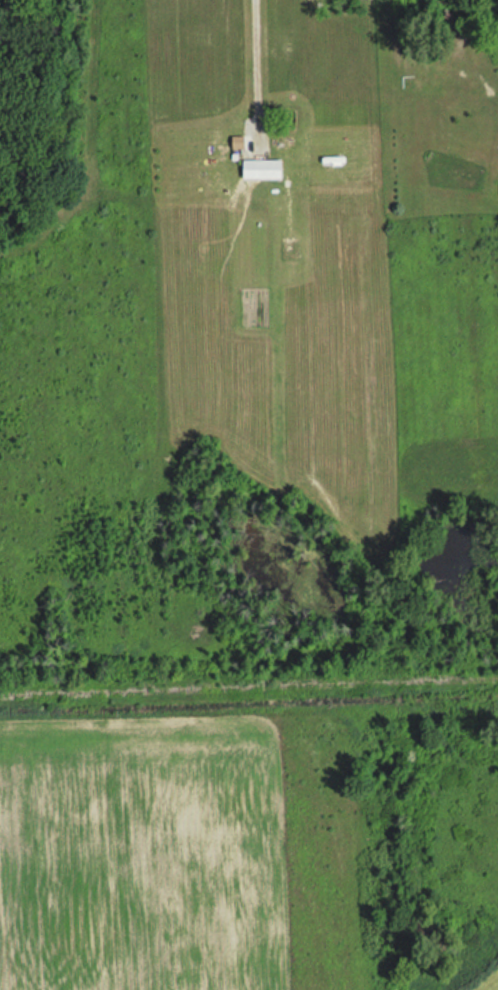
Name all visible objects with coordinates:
railway: (249, 687)

